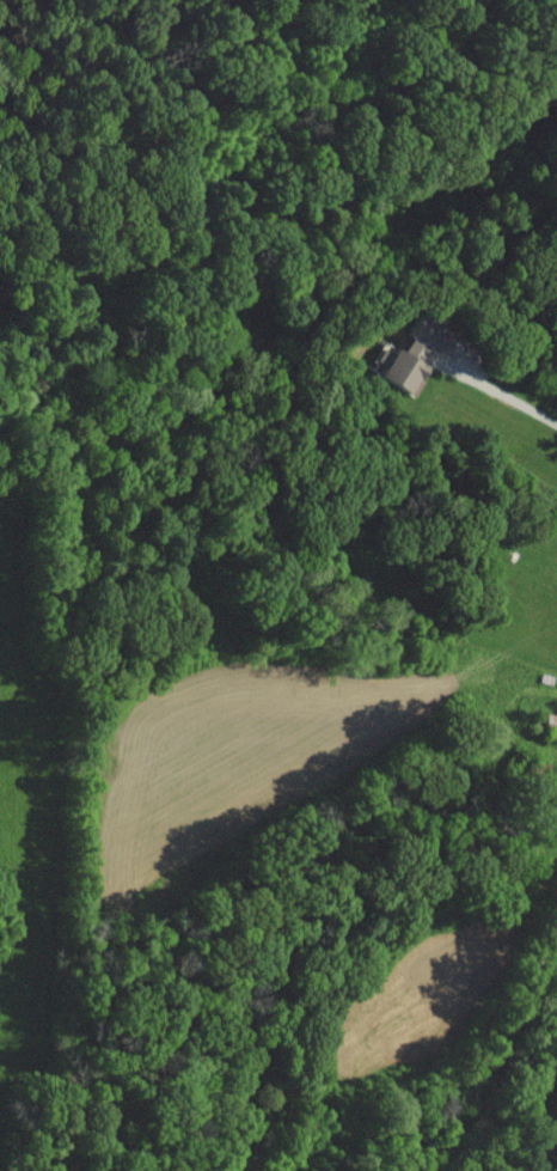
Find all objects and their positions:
building: (405, 364)
road: (500, 391)
road: (556, 943)
road: (503, 1055)

